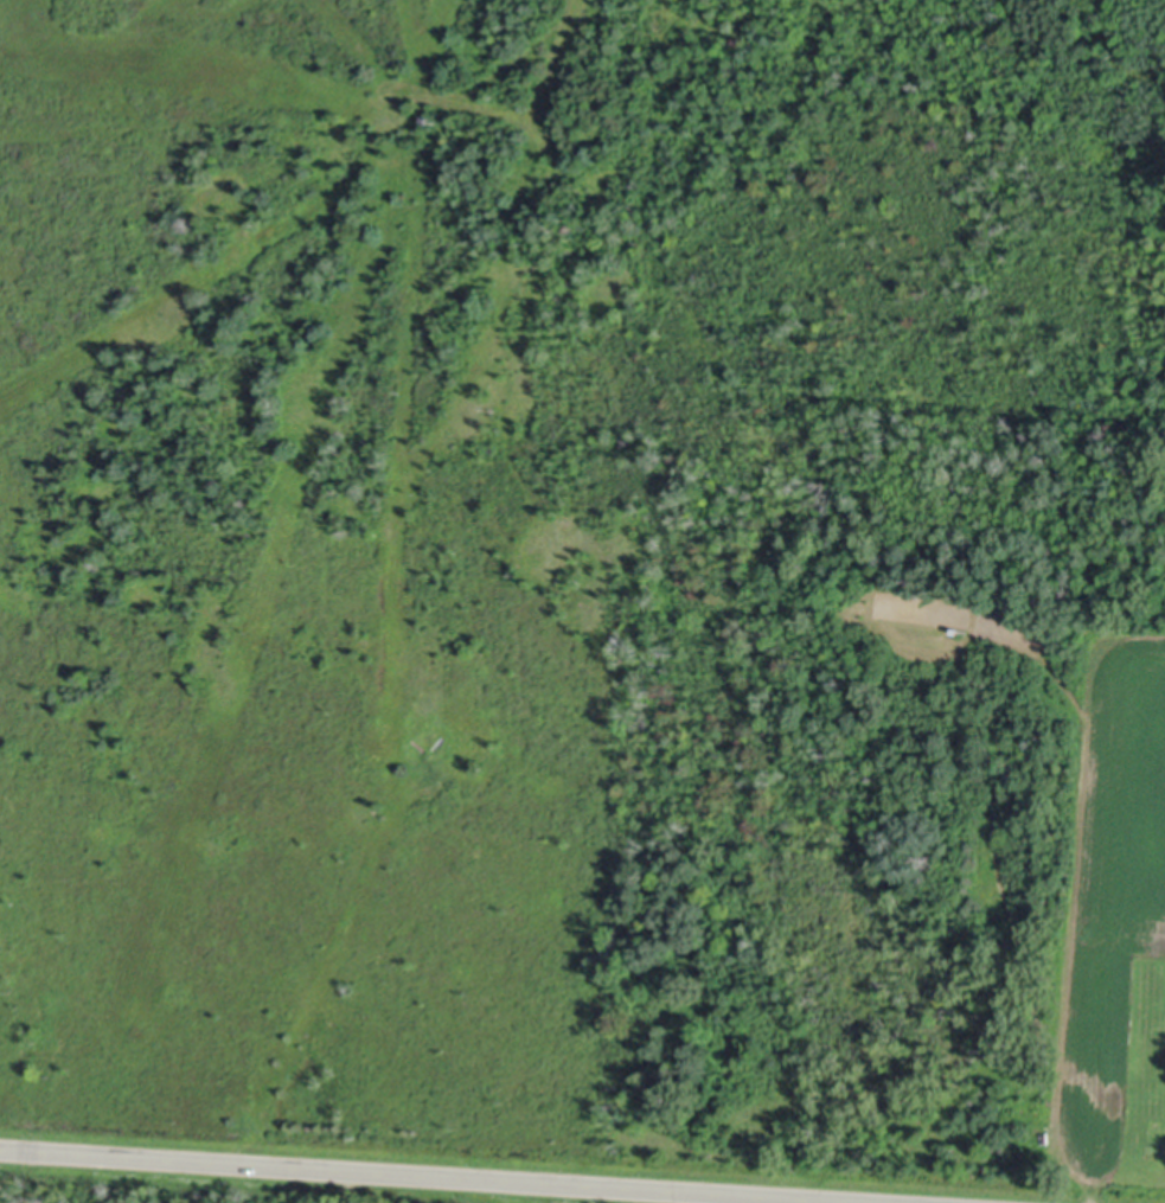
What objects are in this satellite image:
road: (448, 1173)

